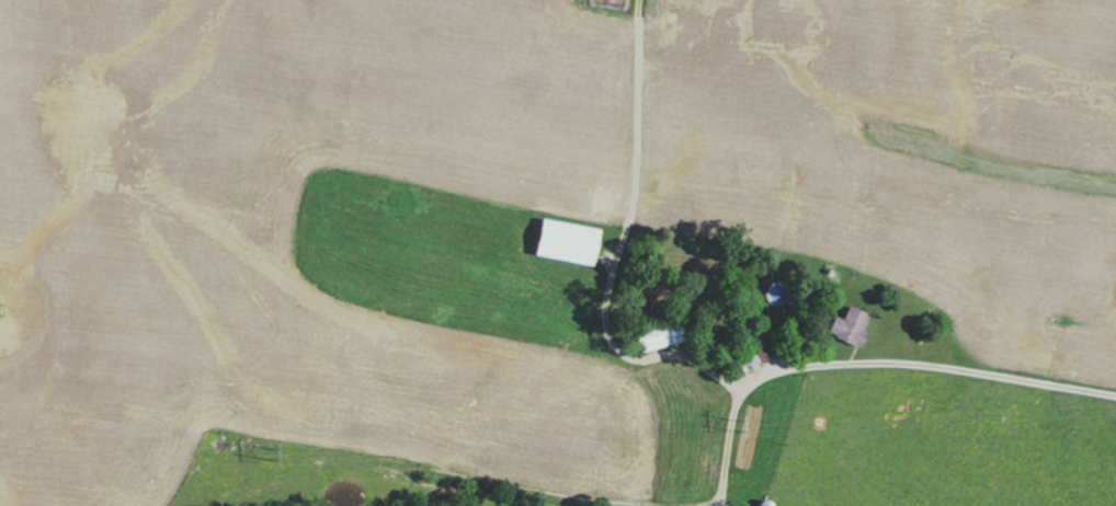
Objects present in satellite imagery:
building: (560, 241)
building: (845, 325)
road: (696, 360)
road: (867, 361)
power tower: (741, 426)
power tower: (277, 457)

